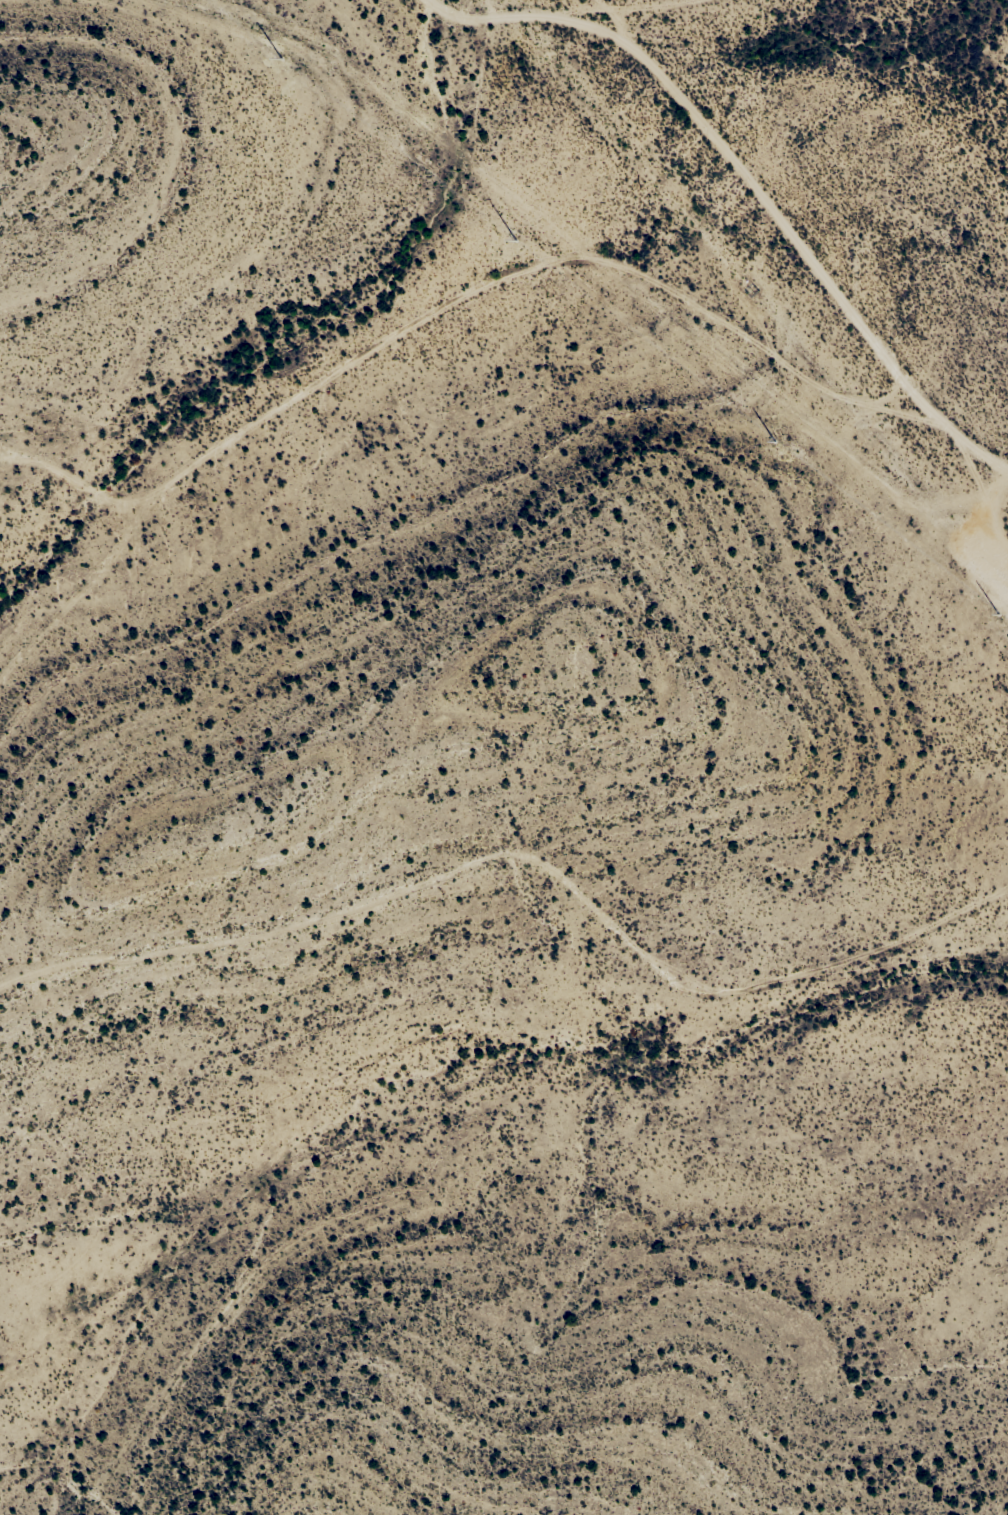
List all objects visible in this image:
power tower: (282, 57)
road: (717, 226)
power tower: (517, 239)
road: (334, 367)
power tower: (776, 439)
road: (64, 505)
road: (979, 607)
power tower: (996, 613)
road: (519, 890)

